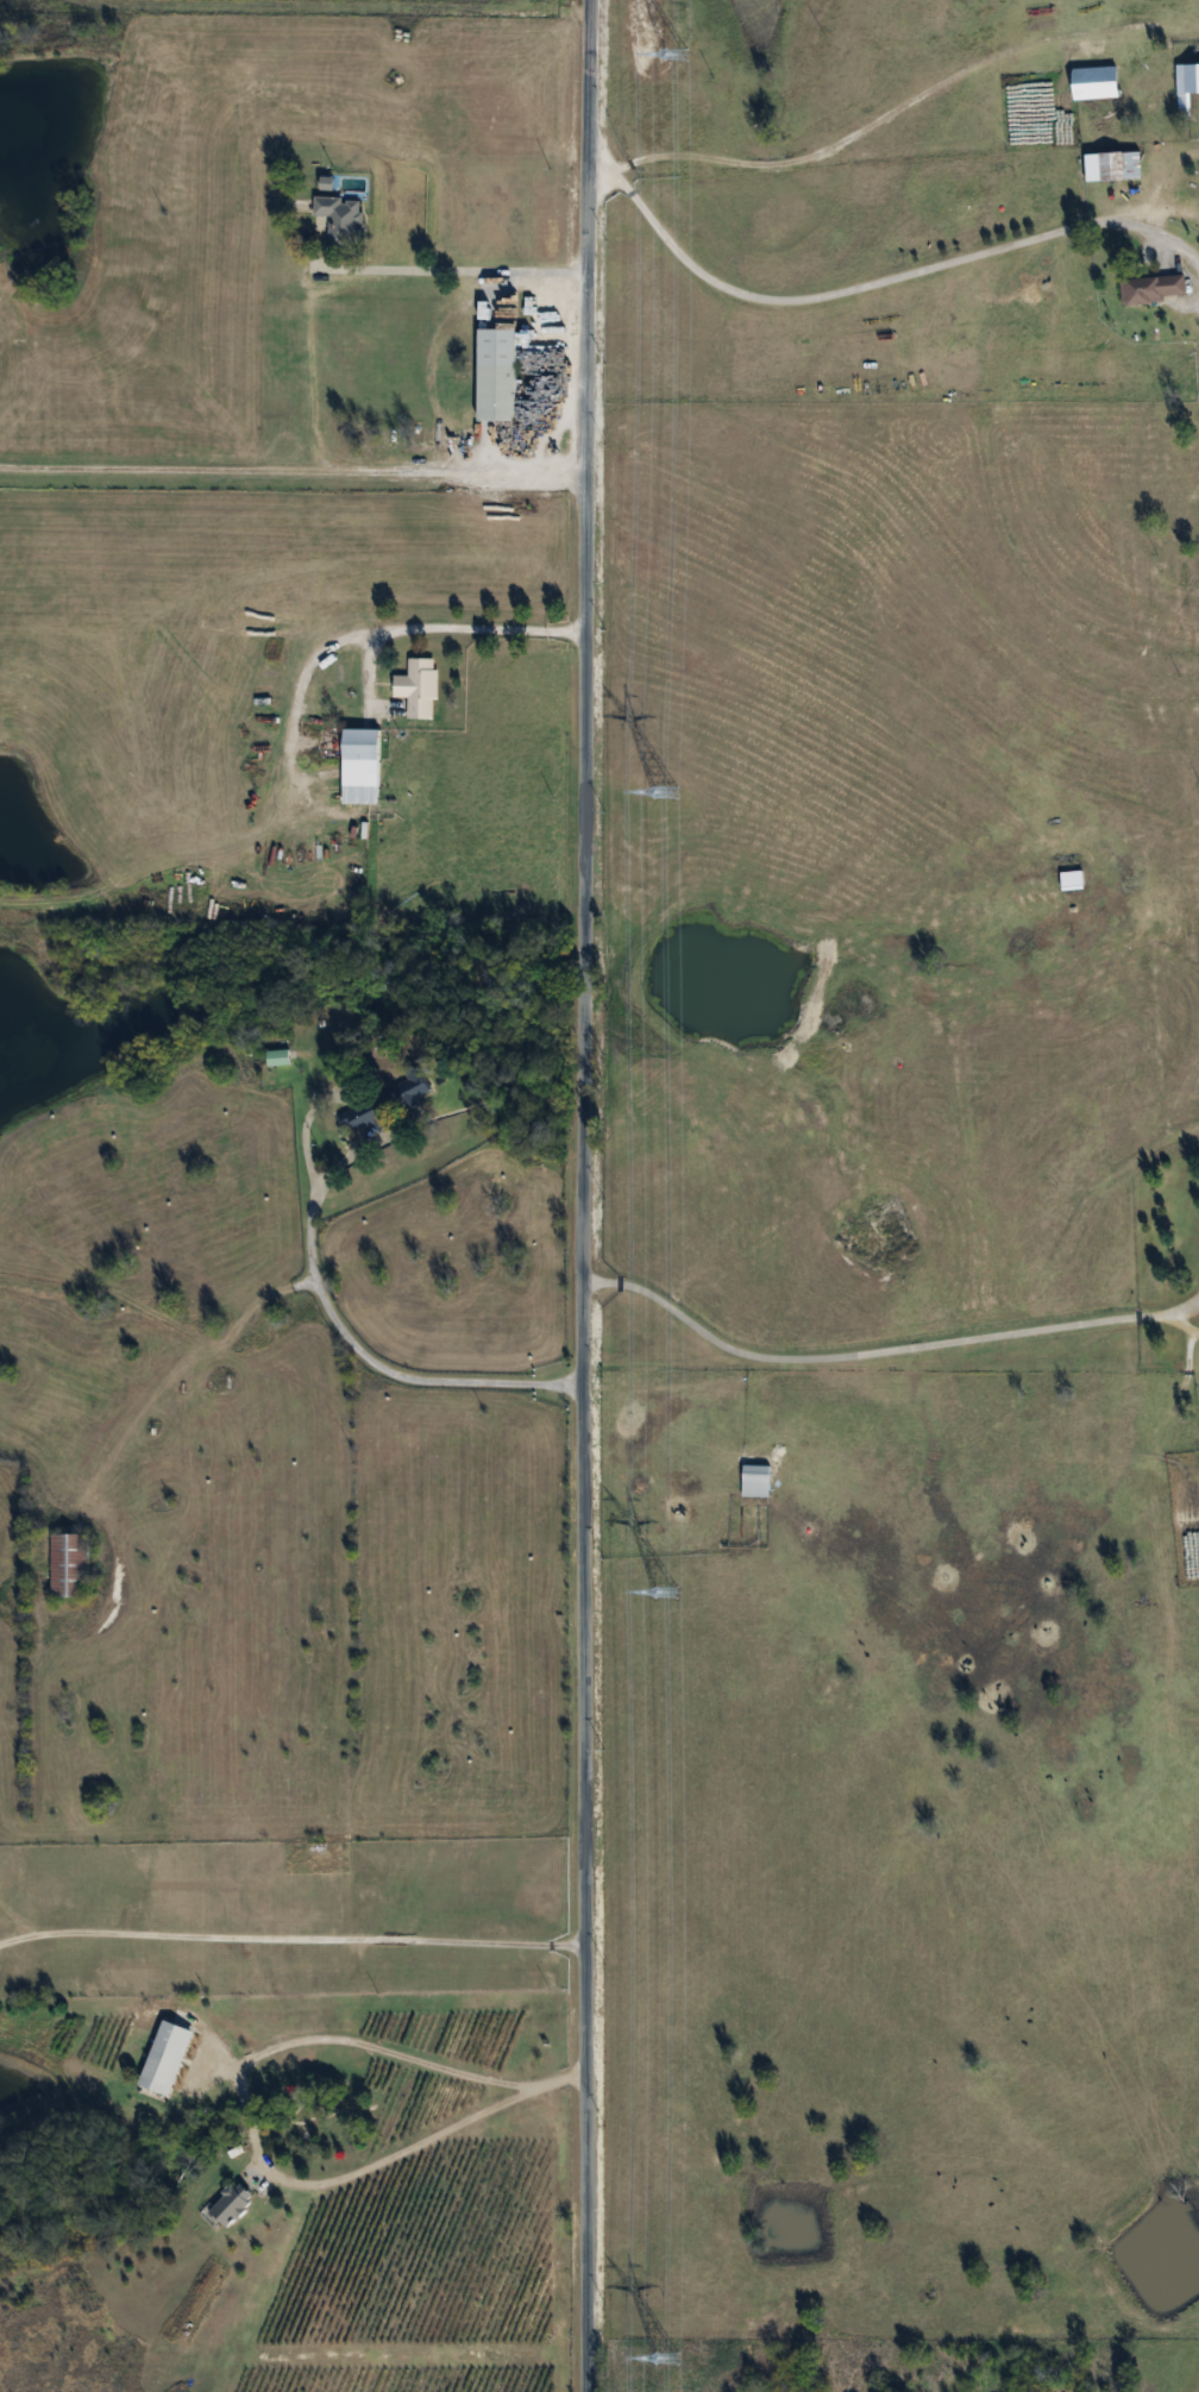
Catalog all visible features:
power tower: (678, 54)
building: (1092, 83)
building: (1186, 86)
road: (871, 123)
building: (1118, 167)
building: (340, 221)
road: (460, 266)
building: (1151, 289)
road: (801, 299)
building: (494, 376)
road: (293, 472)
road: (456, 627)
building: (418, 688)
building: (358, 766)
power tower: (667, 793)
building: (1054, 878)
building: (276, 1057)
building: (384, 1103)
road: (582, 1195)
road: (351, 1335)
road: (884, 1344)
building: (754, 1482)
building: (68, 1567)
power tower: (667, 1593)
road: (291, 1935)
building: (163, 2059)
road: (250, 2133)
building: (228, 2205)
building: (478, 2358)
power tower: (667, 2359)

